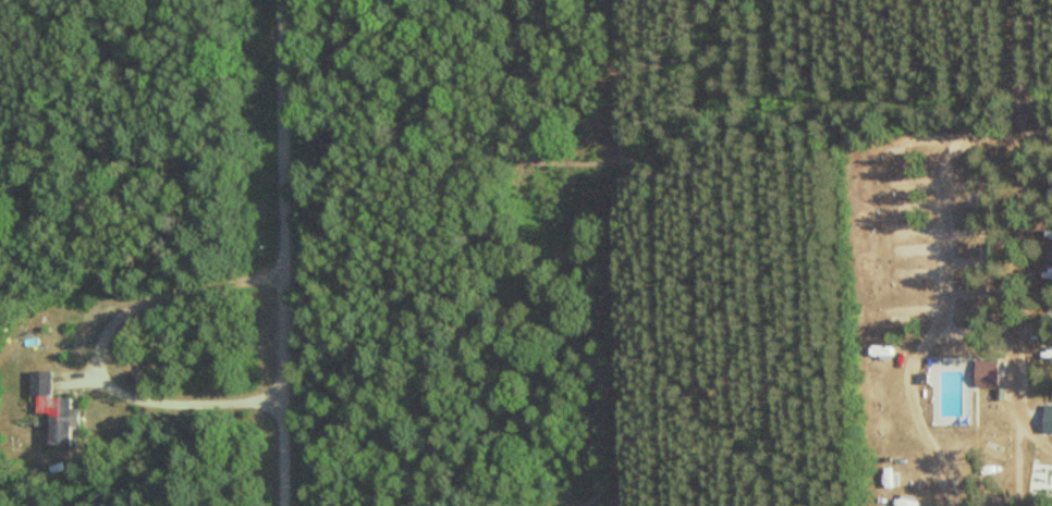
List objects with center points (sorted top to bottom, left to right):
road: (998, 73)
road: (991, 151)
building: (1047, 233)
road: (284, 252)
road: (1007, 326)
road: (939, 345)
road: (96, 354)
building: (49, 409)
building: (1045, 422)
building: (1048, 489)

